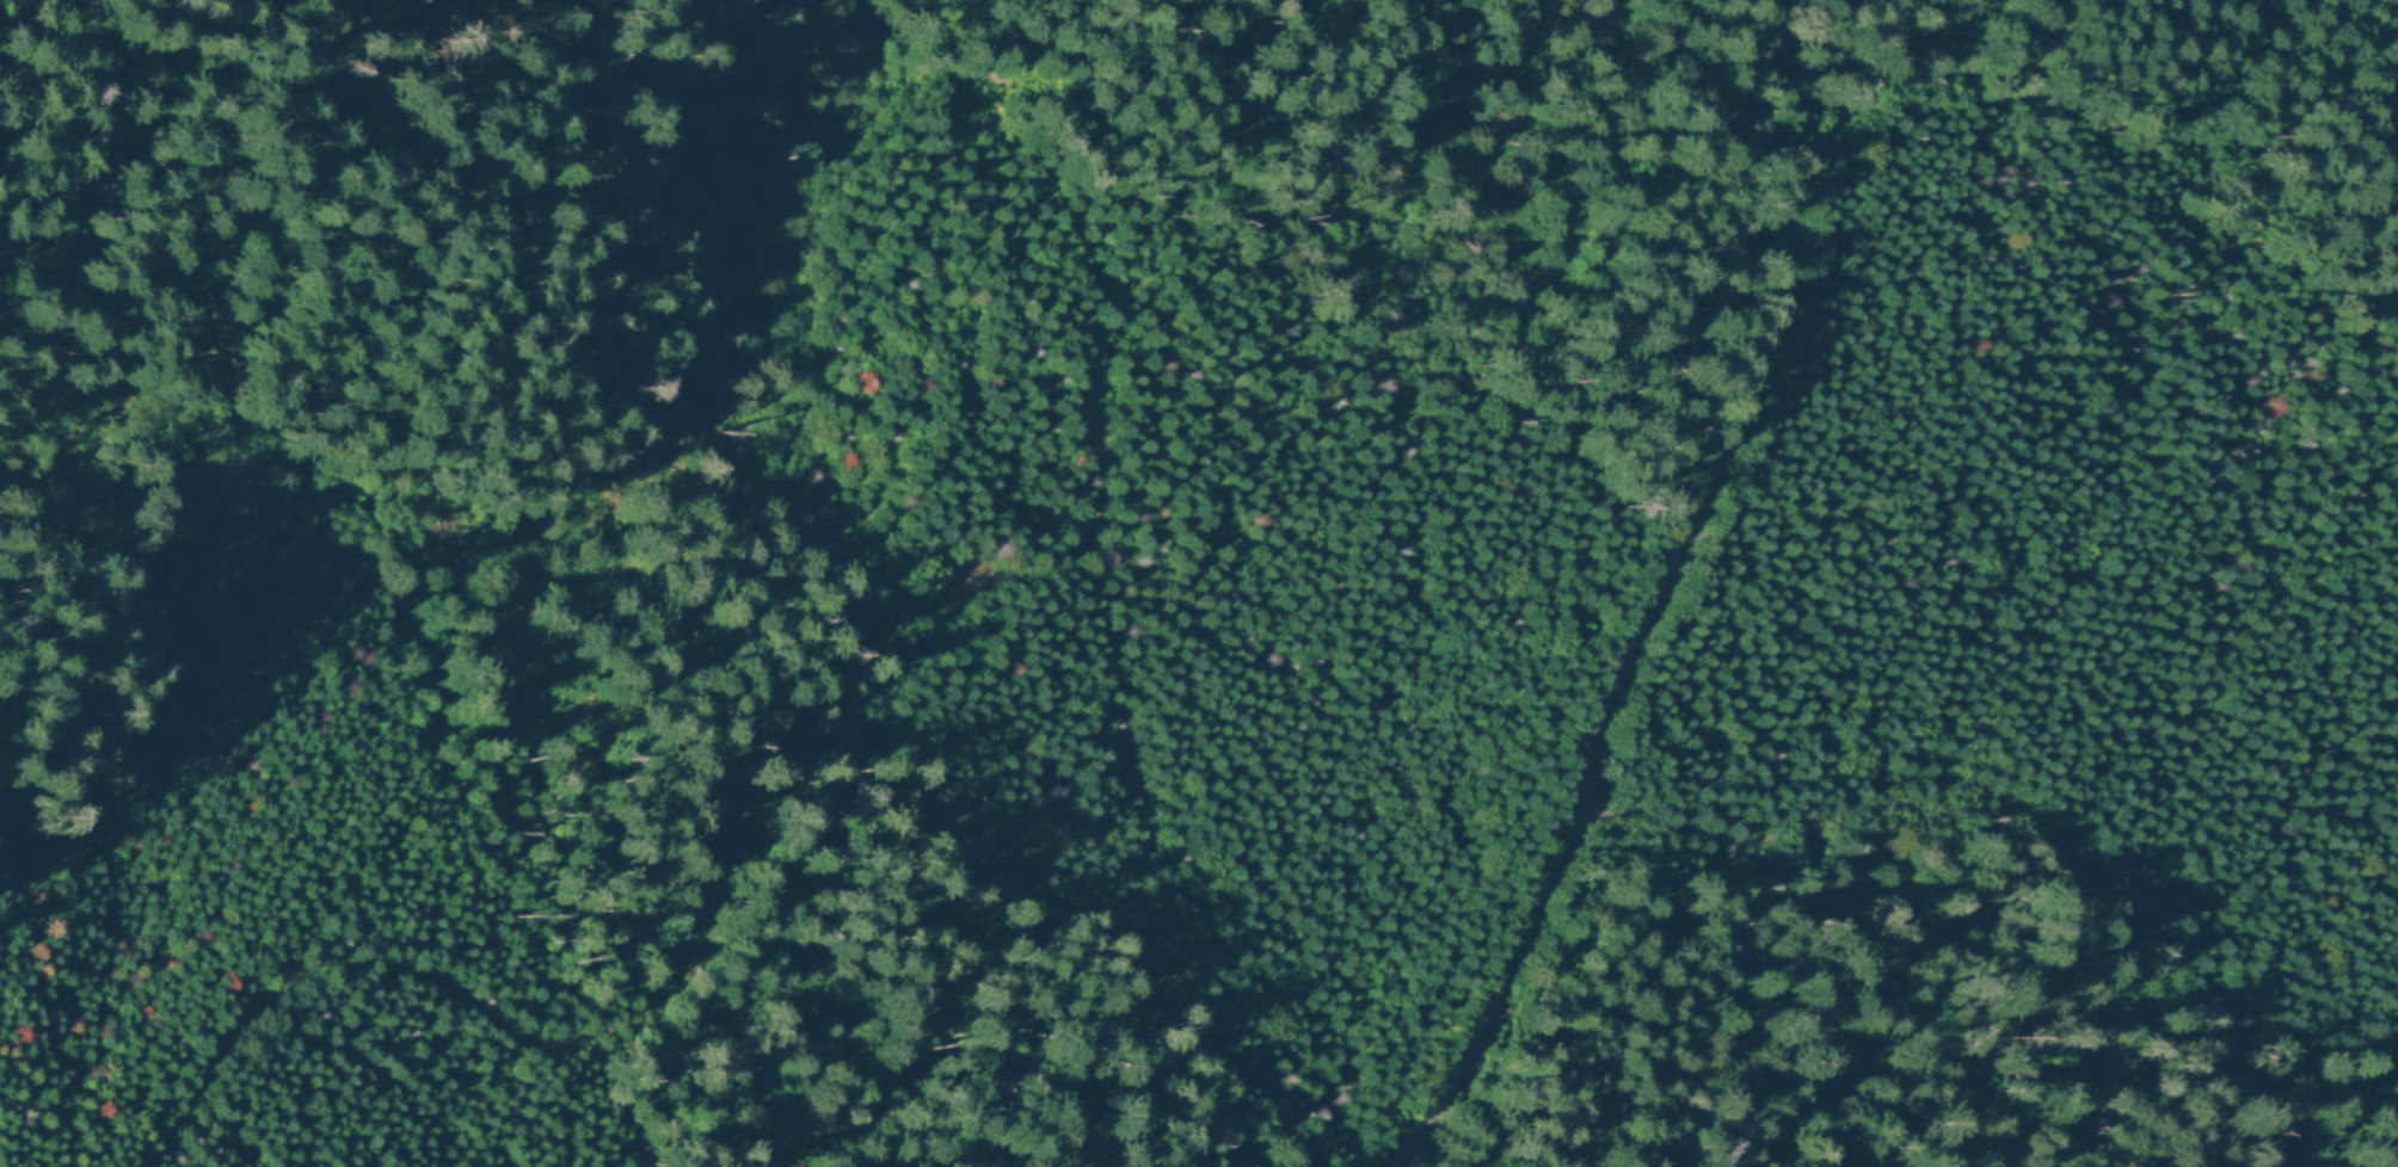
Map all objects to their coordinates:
road: (1648, 579)

